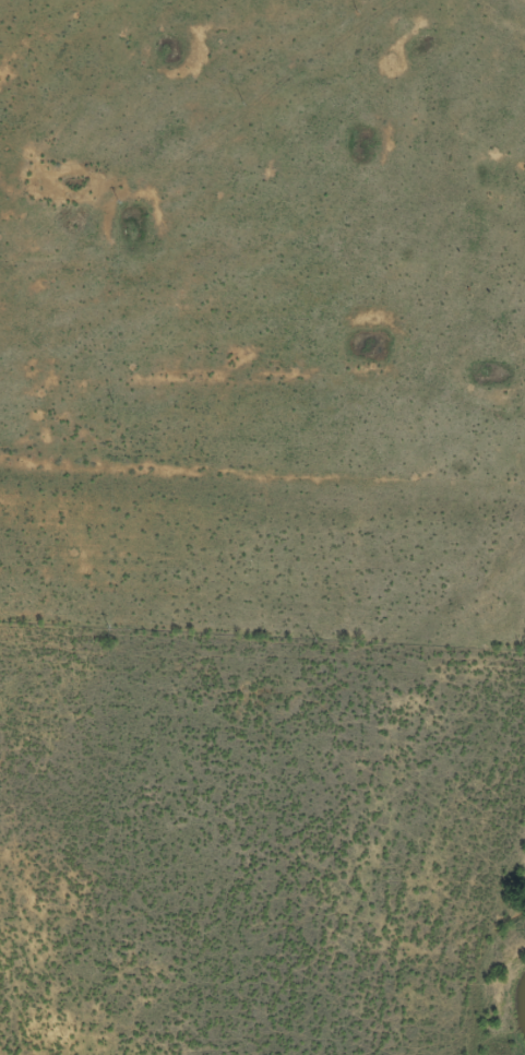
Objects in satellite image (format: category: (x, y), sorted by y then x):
road: (518, 7)

